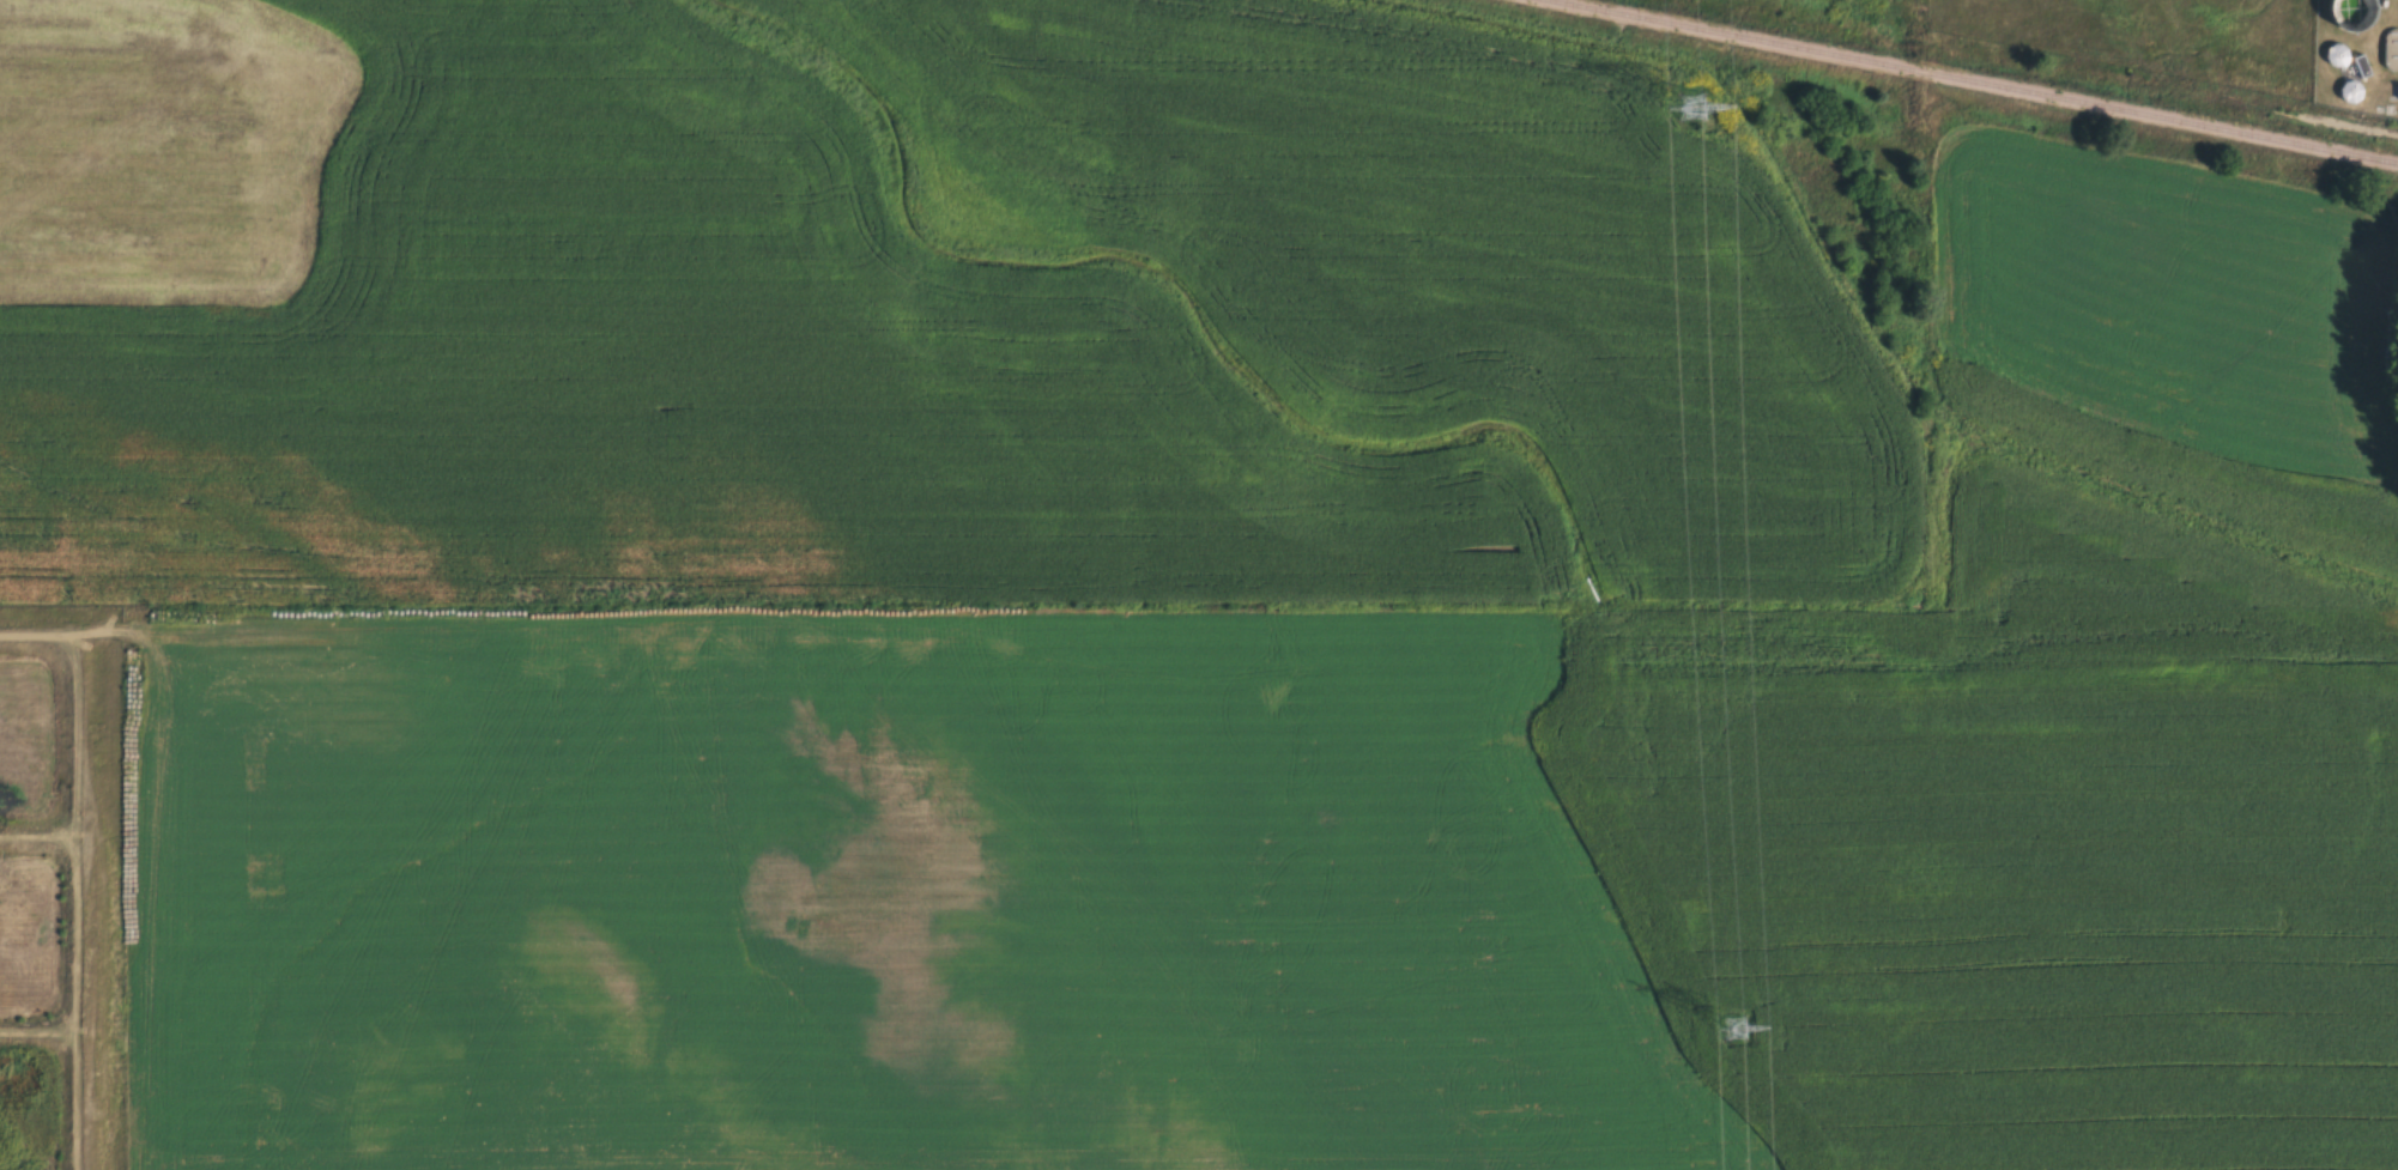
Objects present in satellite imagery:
crop: (1877, 8)
building: (2360, 12)
building: (2336, 53)
building: (2362, 65)
railway: (1969, 81)
building: (2351, 90)
power tower: (1707, 126)
crop: (1194, 598)
power tower: (1743, 1038)

